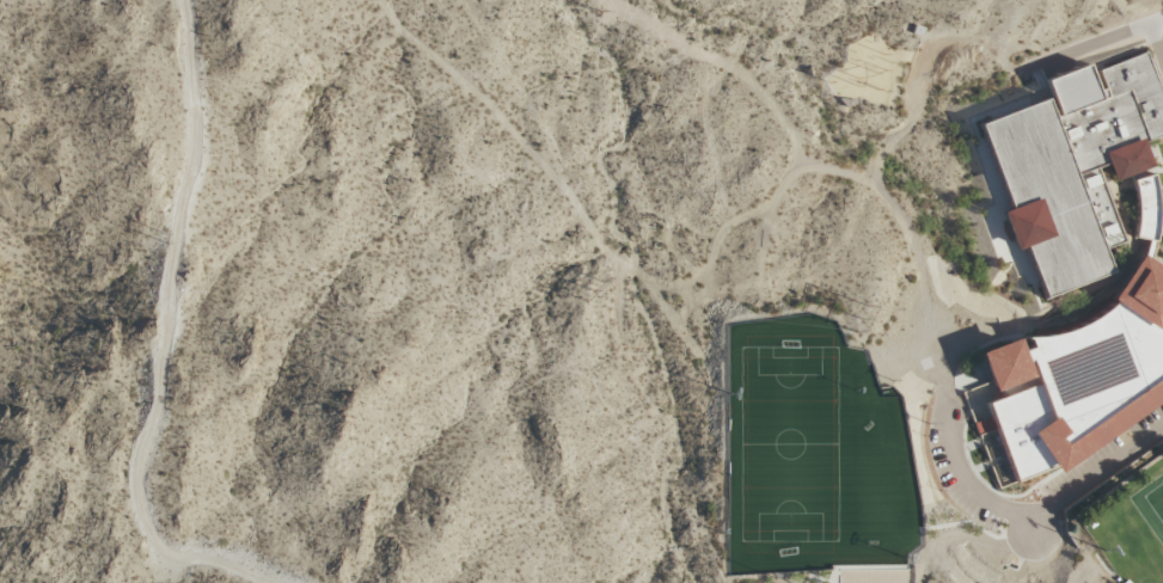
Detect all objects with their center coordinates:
power tower: (593, 11)
road: (1127, 11)
road: (1079, 25)
road: (1155, 43)
road: (1085, 45)
road: (723, 61)
road: (993, 194)
power tower: (165, 237)
road: (1124, 256)
building: (1075, 265)
road: (684, 276)
power tower: (593, 290)
power tower: (859, 319)
road: (1029, 329)
road: (159, 340)
park: (788, 444)
park: (789, 444)
parking lot: (1104, 461)
parking lot: (960, 474)
road: (991, 487)
park: (1156, 502)
road: (1004, 507)
road: (1033, 526)
road: (919, 534)
road: (1078, 571)
park: (875, 576)
road: (948, 576)

